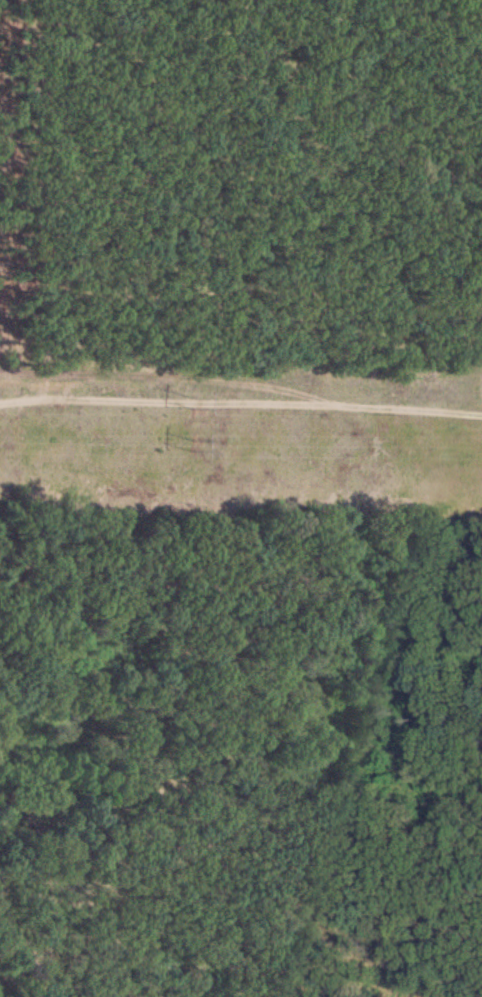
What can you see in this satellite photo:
power tower: (194, 400)
power tower: (193, 444)

